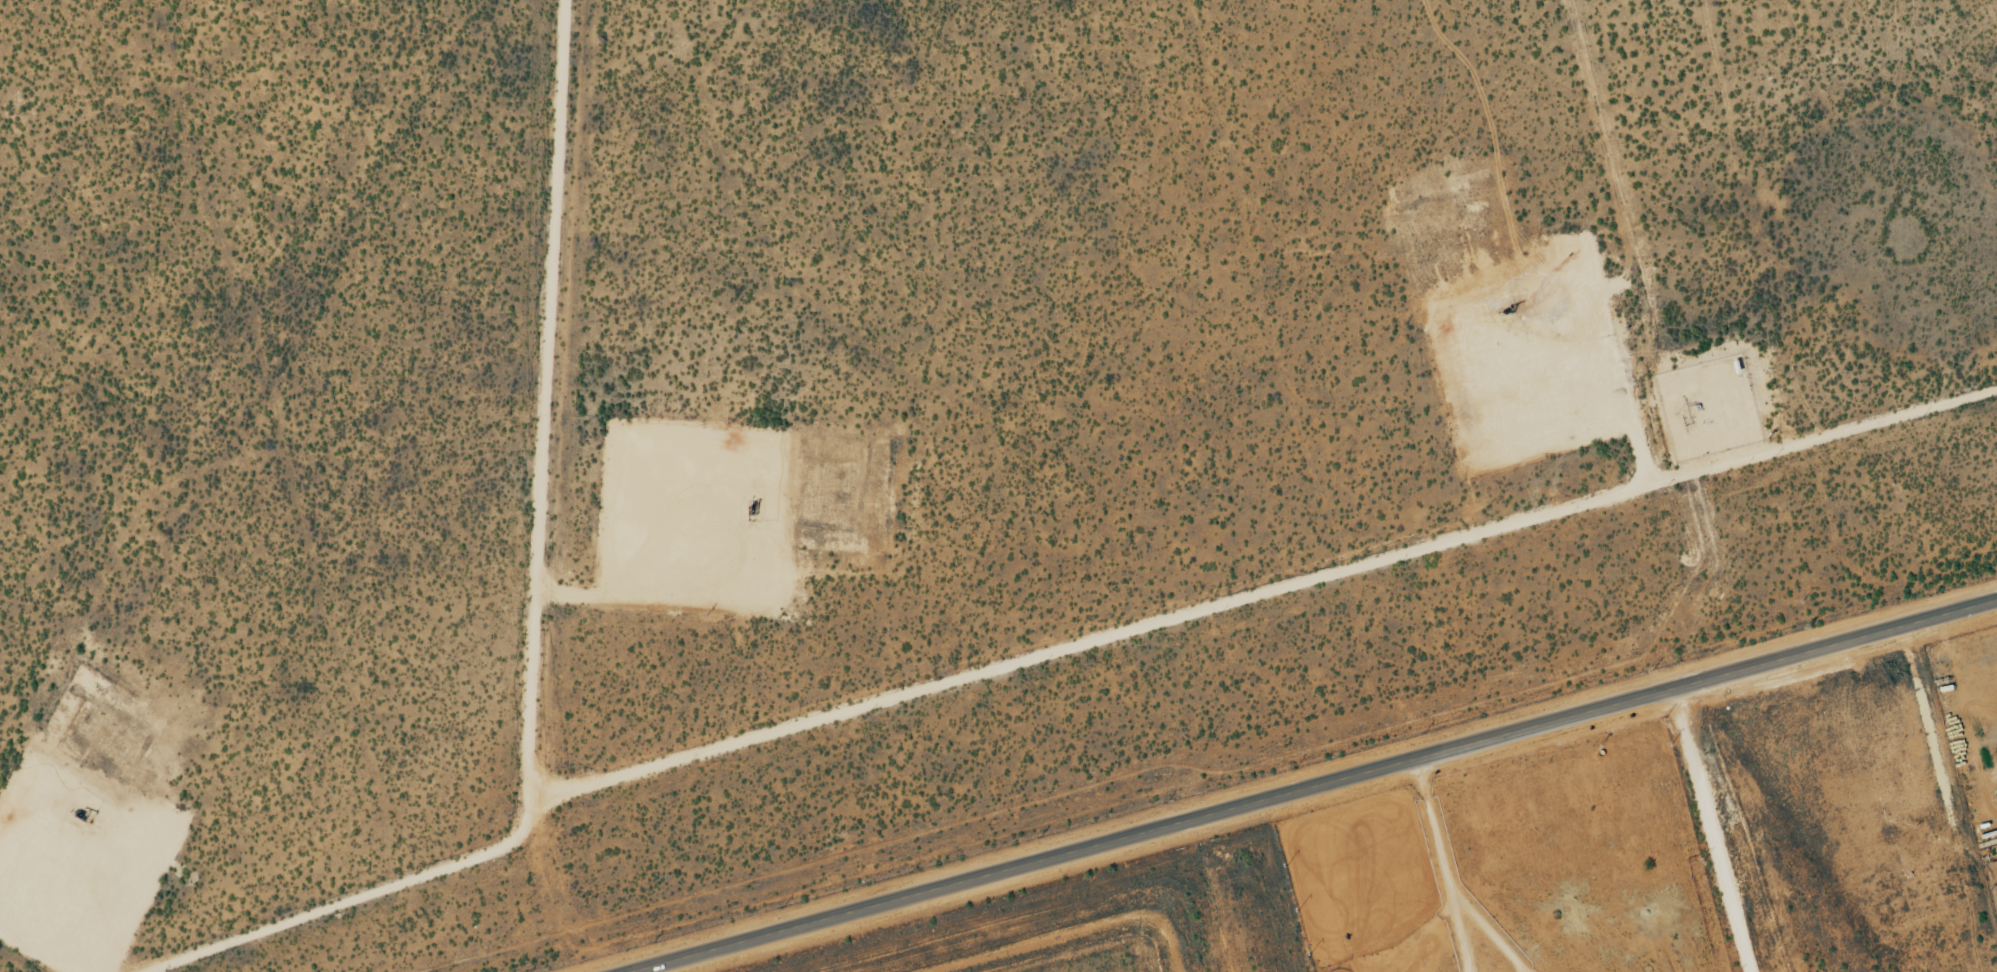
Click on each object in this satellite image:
road: (1320, 787)
road: (1723, 829)
road: (1447, 879)

